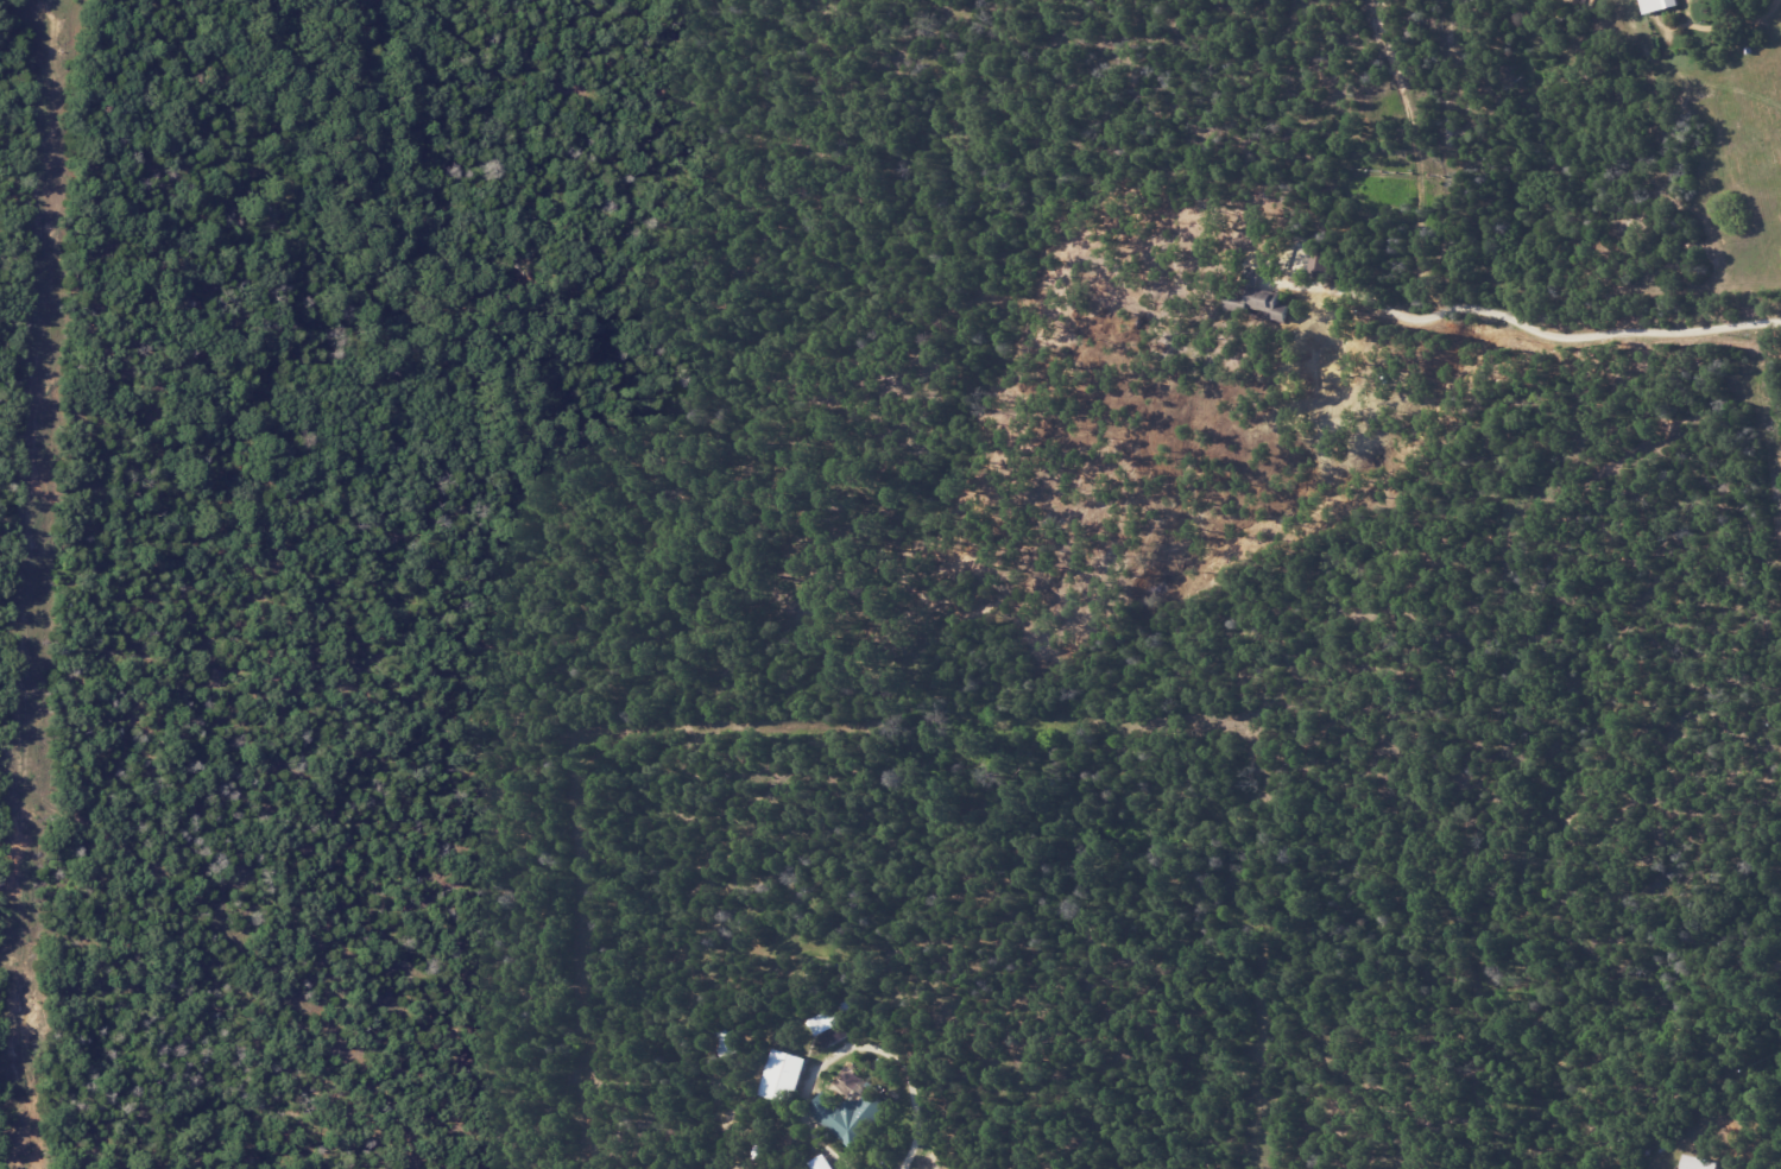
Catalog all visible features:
building: (1656, 5)
road: (1419, 163)
building: (1256, 302)
road: (1524, 340)
building: (783, 1076)
building: (851, 1117)
road: (917, 1117)
building: (821, 1163)
building: (1697, 1163)

